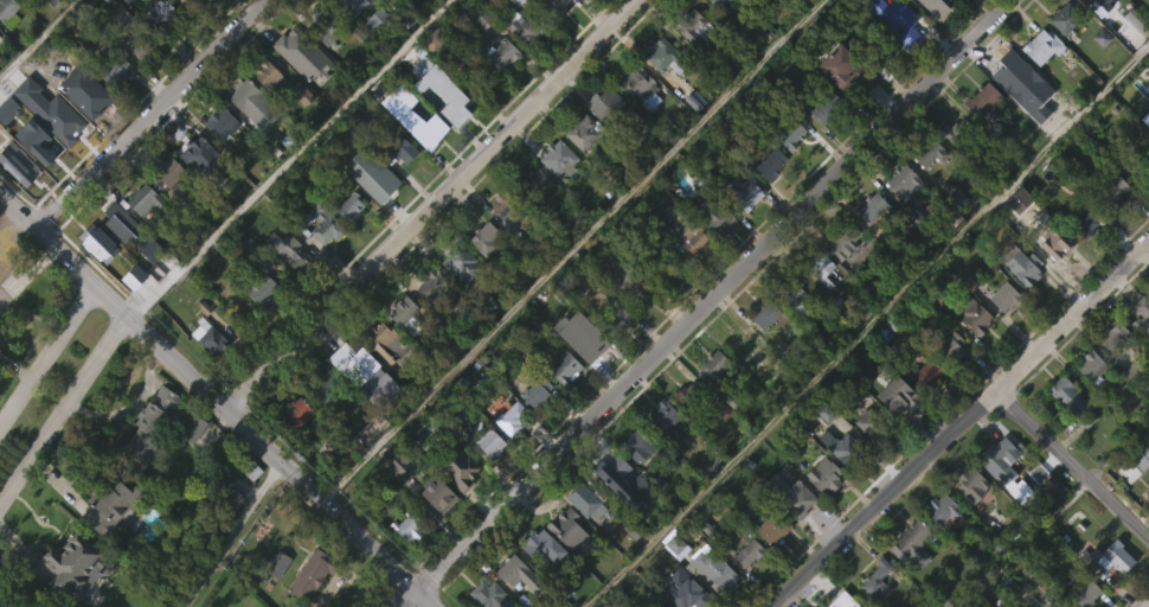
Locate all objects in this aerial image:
building: (399, 0)
building: (606, 0)
building: (1090, 2)
building: (185, 4)
building: (715, 4)
building: (349, 7)
building: (933, 7)
building: (7, 8)
building: (556, 8)
building: (742, 8)
building: (957, 9)
building: (580, 13)
building: (165, 15)
building: (1065, 18)
building: (1137, 18)
building: (897, 19)
building: (320, 20)
building: (185, 21)
building: (522, 27)
building: (695, 27)
building: (925, 27)
building: (1091, 30)
building: (715, 32)
building: (347, 34)
building: (553, 38)
building: (135, 39)
building: (5, 41)
building: (160, 50)
building: (303, 53)
building: (500, 53)
building: (663, 53)
building: (879, 53)
building: (1061, 56)
building: (480, 57)
building: (1132, 58)
building: (519, 65)
building: (692, 66)
building: (1012, 69)
building: (115, 70)
building: (267, 74)
building: (75, 81)
building: (133, 82)
building: (636, 83)
building: (1040, 84)
building: (500, 91)
building: (301, 92)
building: (661, 94)
building: (244, 95)
building: (982, 98)
building: (452, 100)
building: (827, 107)
building: (113, 108)
building: (264, 109)
building: (1009, 109)
road: (152, 114)
building: (70, 120)
building: (218, 121)
building: (636, 122)
building: (428, 123)
building: (39, 130)
building: (784, 130)
building: (580, 132)
building: (958, 133)
building: (978, 138)
building: (250, 140)
building: (603, 143)
building: (824, 145)
building: (397, 148)
building: (929, 152)
building: (199, 155)
building: (770, 162)
building: (1138, 162)
building: (546, 164)
building: (580, 168)
building: (40, 170)
building: (166, 170)
building: (785, 170)
building: (370, 171)
building: (901, 179)
building: (192, 186)
building: (399, 186)
building: (926, 190)
building: (1111, 190)
building: (743, 191)
building: (554, 194)
building: (139, 196)
building: (768, 200)
road: (431, 204)
building: (507, 206)
building: (872, 206)
building: (168, 209)
building: (367, 211)
building: (711, 215)
building: (533, 218)
building: (900, 219)
building: (323, 223)
building: (1110, 226)
building: (743, 228)
building: (108, 234)
building: (141, 236)
building: (483, 237)
road: (45, 238)
building: (842, 238)
building: (695, 239)
building: (1058, 241)
building: (1, 244)
building: (347, 244)
building: (869, 244)
road: (569, 250)
building: (294, 251)
building: (713, 251)
building: (1080, 256)
building: (320, 261)
building: (461, 261)
building: (1, 264)
building: (819, 264)
building: (1023, 266)
building: (109, 275)
building: (621, 275)
building: (691, 275)
building: (483, 277)
building: (841, 277)
building: (1053, 281)
building: (1, 282)
building: (431, 282)
building: (258, 287)
building: (293, 292)
building: (794, 295)
building: (1003, 295)
road: (109, 299)
building: (1, 300)
building: (458, 300)
road: (706, 302)
building: (482, 303)
building: (1020, 303)
building: (819, 306)
building: (1143, 309)
building: (403, 313)
building: (763, 313)
building: (971, 314)
building: (612, 320)
building: (429, 322)
road: (865, 324)
building: (261, 327)
building: (1147, 328)
building: (1001, 333)
building: (583, 336)
building: (795, 336)
building: (207, 337)
building: (1116, 337)
building: (383, 341)
building: (739, 343)
building: (952, 346)
building: (402, 350)
building: (763, 351)
building: (969, 351)
building: (615, 354)
road: (45, 356)
building: (1140, 356)
building: (351, 357)
building: (1091, 365)
building: (564, 366)
building: (584, 372)
building: (206, 373)
building: (718, 373)
building: (927, 373)
building: (1111, 373)
building: (384, 377)
building: (740, 378)
building: (949, 384)
building: (322, 385)
building: (539, 392)
building: (687, 395)
building: (897, 395)
building: (1067, 395)
building: (713, 403)
building: (1089, 403)
building: (561, 404)
building: (926, 409)
building: (364, 410)
road: (64, 411)
building: (295, 413)
building: (666, 416)
building: (509, 417)
road: (961, 422)
building: (871, 424)
building: (153, 426)
building: (534, 429)
building: (681, 433)
building: (1065, 433)
building: (894, 434)
building: (637, 443)
building: (293, 452)
building: (660, 453)
building: (509, 455)
building: (1000, 459)
building: (149, 460)
building: (867, 460)
building: (1136, 461)
road: (278, 462)
building: (452, 464)
building: (191, 465)
road: (1070, 466)
building: (609, 469)
building: (826, 475)
building: (487, 479)
building: (634, 481)
building: (974, 484)
building: (999, 492)
building: (435, 493)
building: (1147, 493)
building: (797, 500)
building: (589, 501)
building: (107, 503)
building: (226, 503)
building: (394, 504)
building: (456, 504)
building: (249, 507)
building: (943, 509)
building: (821, 511)
building: (968, 520)
building: (407, 525)
building: (772, 525)
building: (566, 528)
building: (436, 531)
building: (229, 536)
road: (236, 537)
building: (582, 538)
building: (1148, 541)
building: (105, 542)
building: (540, 544)
building: (912, 545)
building: (941, 545)
building: (747, 551)
building: (1106, 558)
building: (695, 561)
building: (274, 562)
building: (405, 564)
building: (564, 564)
building: (769, 564)
building: (71, 567)
building: (509, 569)
building: (313, 574)
building: (670, 579)
building: (909, 581)
building: (539, 582)
building: (875, 582)
building: (745, 589)
building: (72, 593)
building: (1085, 593)
building: (1106, 594)
building: (488, 595)
building: (272, 598)
building: (313, 600)
building: (699, 600)
building: (509, 601)
building: (1059, 603)
building: (43, 605)
road: (1148, 606)

